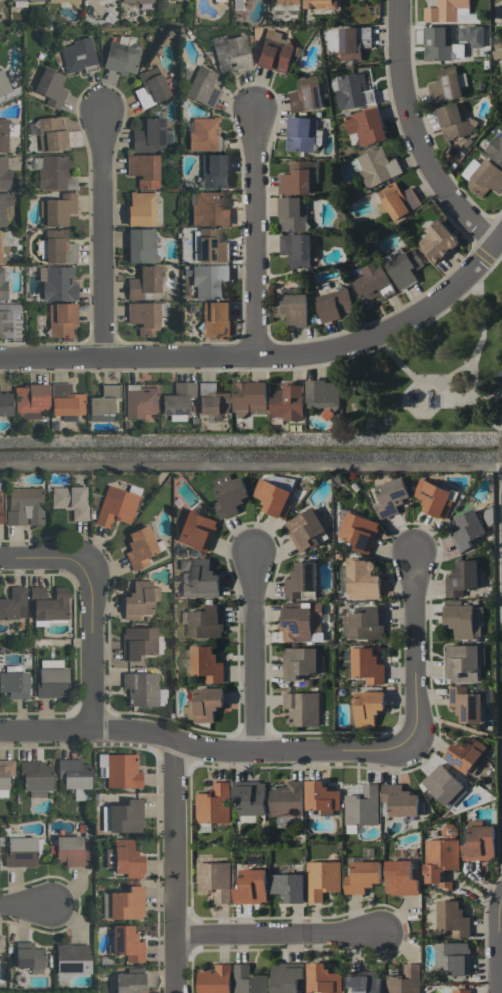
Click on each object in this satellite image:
building: (24, 0)
building: (57, 0)
building: (137, 1)
building: (286, 2)
building: (321, 4)
building: (448, 10)
building: (354, 42)
building: (441, 44)
building: (230, 53)
building: (78, 55)
building: (275, 55)
building: (122, 56)
building: (501, 67)
building: (445, 85)
building: (50, 87)
building: (150, 87)
building: (202, 87)
building: (7, 88)
building: (353, 91)
building: (306, 94)
building: (456, 121)
building: (366, 126)
building: (51, 133)
building: (203, 133)
building: (3, 134)
building: (301, 134)
road: (415, 135)
building: (151, 136)
building: (496, 148)
building: (376, 166)
building: (143, 170)
building: (214, 171)
building: (52, 172)
building: (4, 174)
building: (297, 177)
building: (485, 178)
building: (398, 200)
building: (4, 204)
building: (141, 208)
building: (57, 209)
building: (208, 209)
road: (102, 235)
road: (253, 236)
building: (437, 241)
building: (142, 245)
building: (210, 246)
building: (296, 249)
building: (59, 251)
building: (3, 254)
building: (403, 266)
building: (209, 281)
building: (144, 282)
building: (371, 282)
building: (58, 283)
building: (2, 286)
building: (336, 306)
building: (292, 308)
building: (143, 318)
building: (215, 319)
building: (61, 320)
building: (10, 321)
road: (270, 355)
road: (459, 369)
park: (434, 371)
park: (499, 389)
building: (324, 394)
road: (485, 395)
building: (250, 396)
building: (211, 399)
building: (30, 400)
building: (65, 400)
building: (104, 400)
building: (139, 400)
building: (177, 401)
road: (473, 401)
building: (289, 402)
building: (4, 404)
building: (101, 417)
road: (500, 425)
road: (501, 451)
road: (501, 479)
building: (231, 497)
building: (273, 497)
building: (434, 497)
building: (70, 500)
building: (24, 506)
building: (115, 506)
building: (0, 516)
building: (305, 529)
building: (465, 529)
building: (196, 530)
building: (359, 531)
building: (139, 547)
road: (42, 559)
building: (198, 578)
building: (462, 578)
building: (363, 579)
building: (301, 580)
building: (139, 599)
building: (13, 604)
building: (48, 604)
building: (464, 620)
building: (207, 622)
building: (302, 622)
building: (367, 623)
road: (92, 642)
building: (139, 642)
road: (414, 654)
road: (253, 656)
building: (462, 659)
building: (301, 662)
building: (206, 663)
building: (367, 666)
building: (52, 682)
building: (14, 684)
building: (140, 688)
building: (205, 704)
building: (466, 704)
building: (302, 708)
road: (205, 748)
building: (465, 755)
building: (122, 771)
building: (73, 773)
building: (5, 775)
building: (35, 777)
building: (444, 786)
building: (322, 797)
building: (251, 798)
building: (398, 801)
building: (287, 802)
building: (214, 804)
building: (362, 806)
building: (122, 817)
building: (480, 843)
building: (21, 851)
building: (70, 851)
building: (108, 858)
building: (127, 859)
building: (440, 860)
road: (173, 865)
building: (363, 876)
building: (400, 878)
building: (322, 879)
building: (215, 881)
building: (288, 886)
building: (252, 887)
building: (126, 903)
road: (21, 908)
building: (452, 918)
road: (279, 933)
building: (126, 943)
building: (0, 944)
road: (499, 945)
building: (28, 956)
building: (454, 957)
building: (72, 958)
building: (286, 977)
building: (323, 978)
building: (215, 979)
building: (249, 980)
building: (405, 980)
building: (129, 982)
building: (366, 982)
building: (462, 991)

